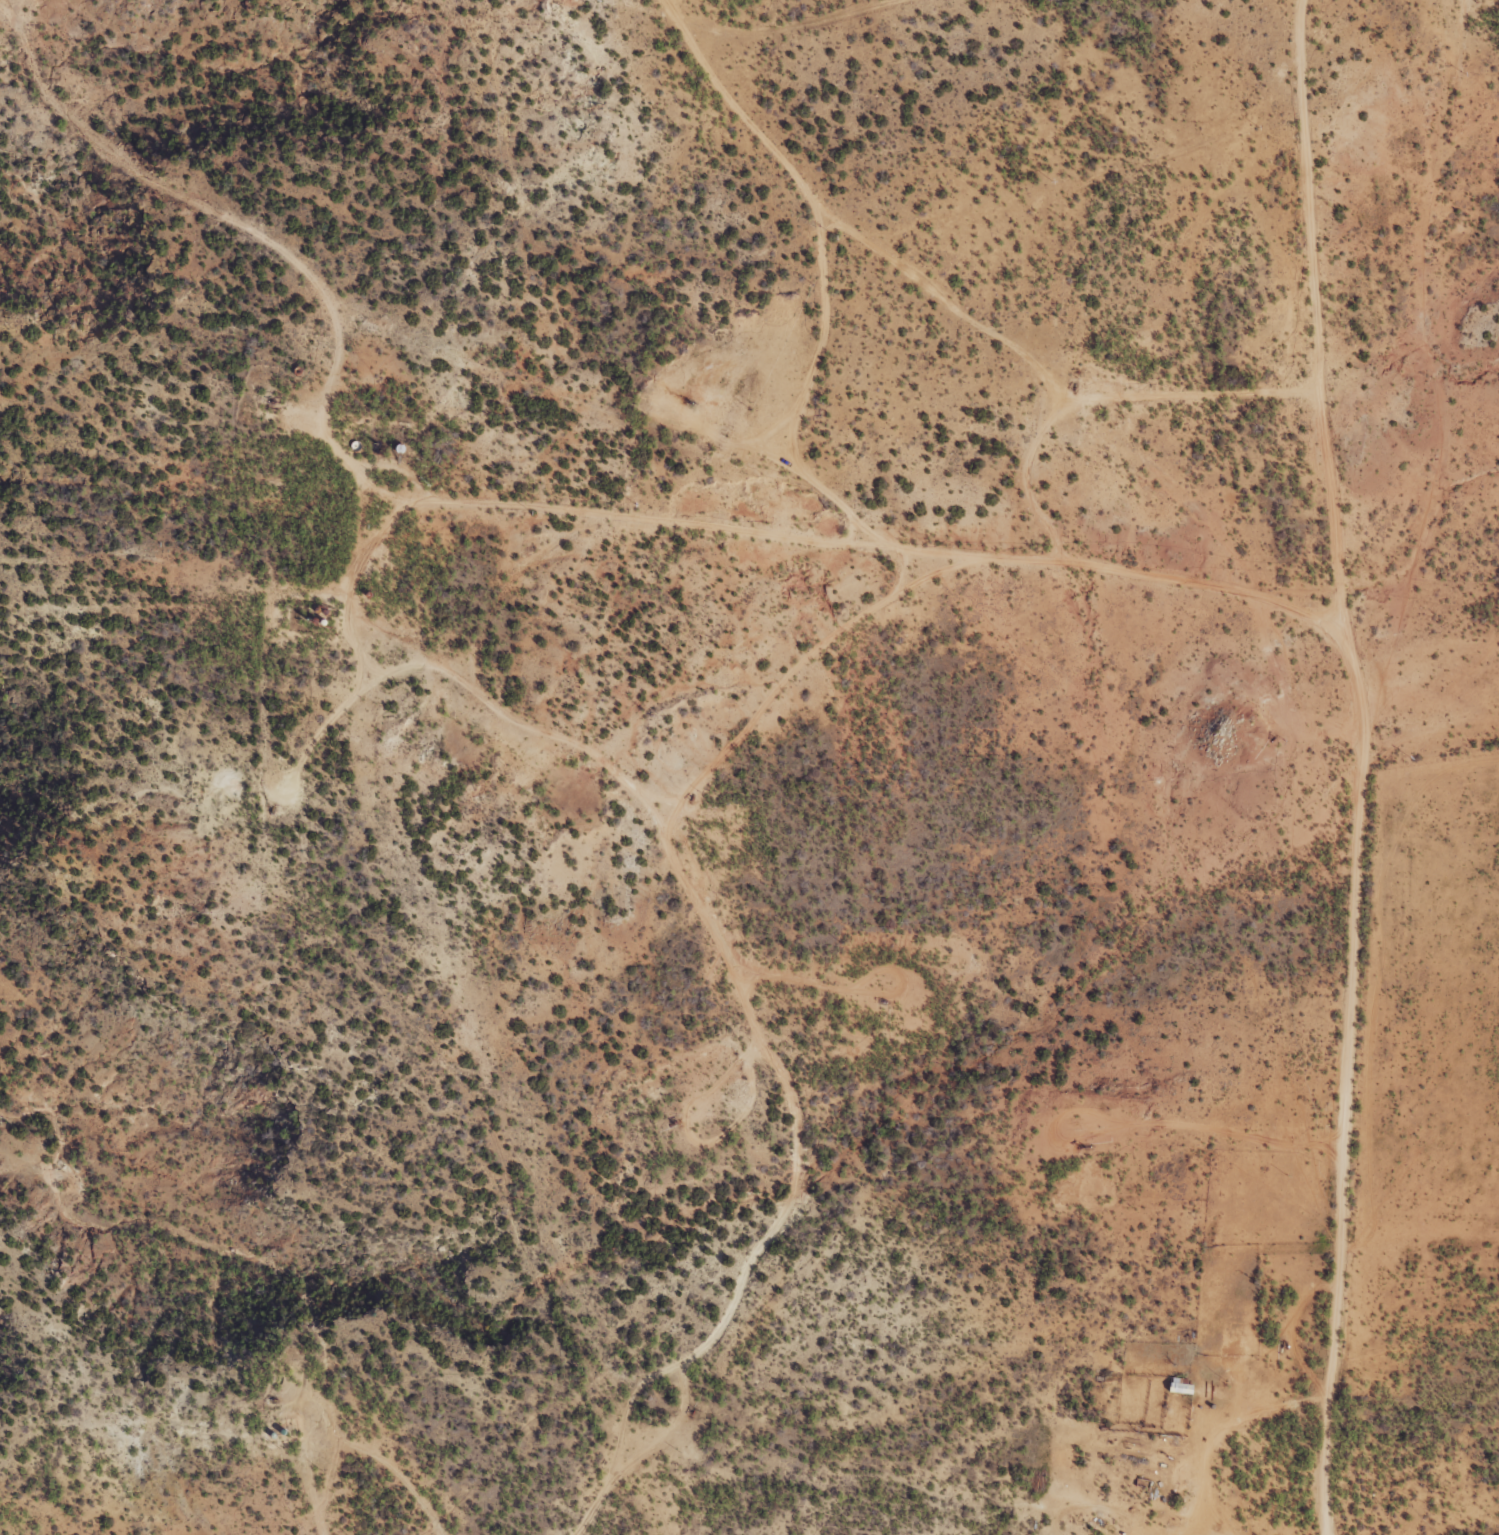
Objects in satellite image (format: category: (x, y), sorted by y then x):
road: (1432, 2)
road: (1072, 44)
road: (811, 250)
road: (1330, 344)
road: (1425, 361)
road: (1058, 447)
road: (803, 516)
road: (543, 582)
road: (981, 590)
road: (1419, 762)
building: (1182, 1385)

